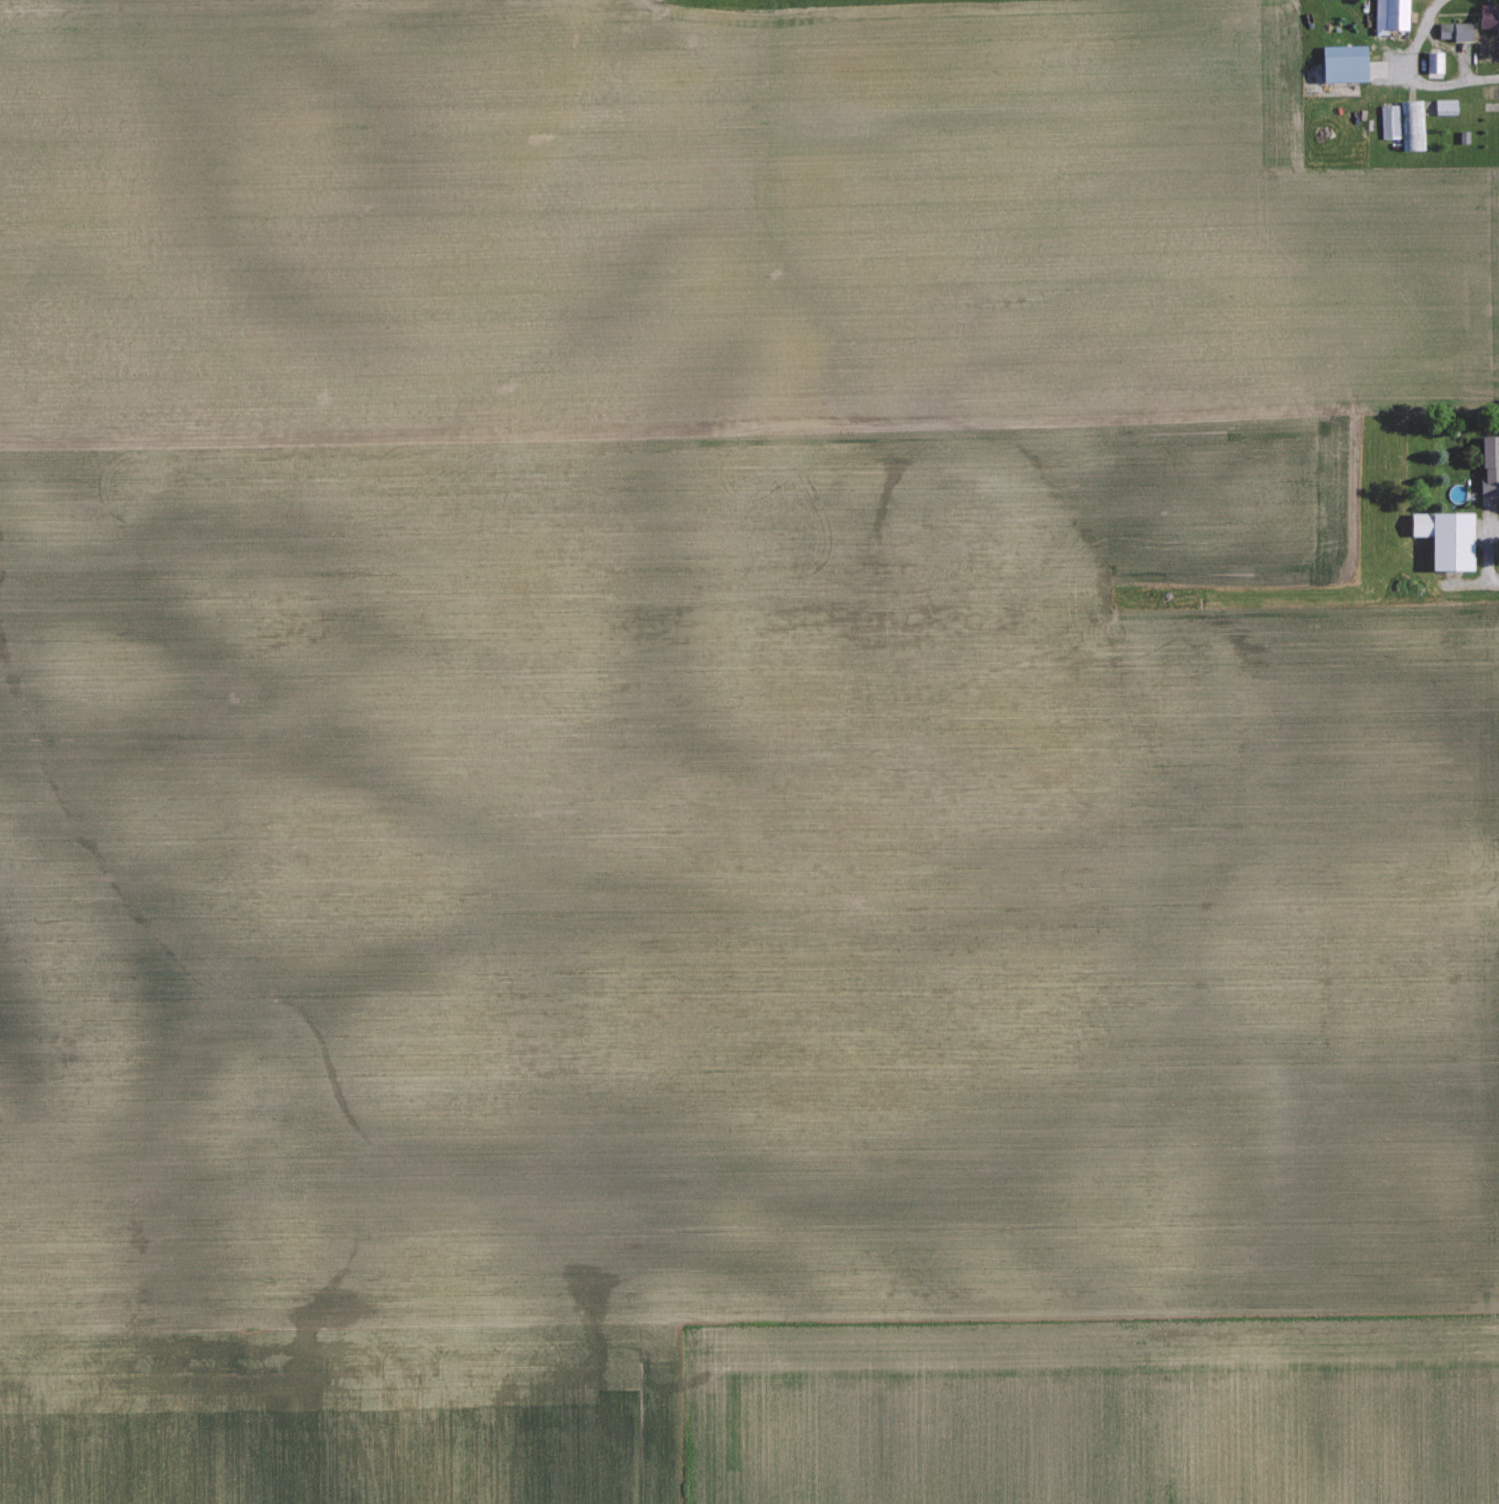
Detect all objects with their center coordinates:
building: (1390, 15)
building: (1488, 16)
building: (1343, 63)
building: (1489, 463)
building: (1445, 536)

